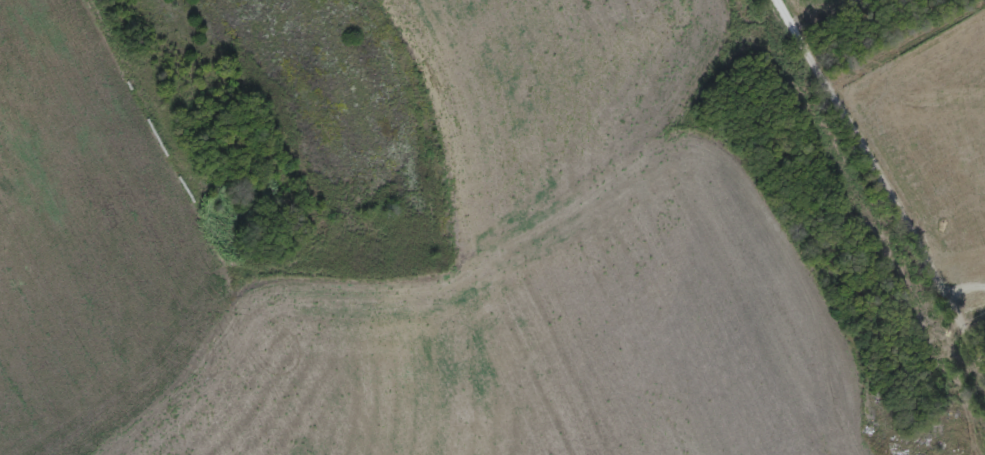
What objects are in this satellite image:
road: (883, 174)
road: (965, 279)
road: (972, 300)

